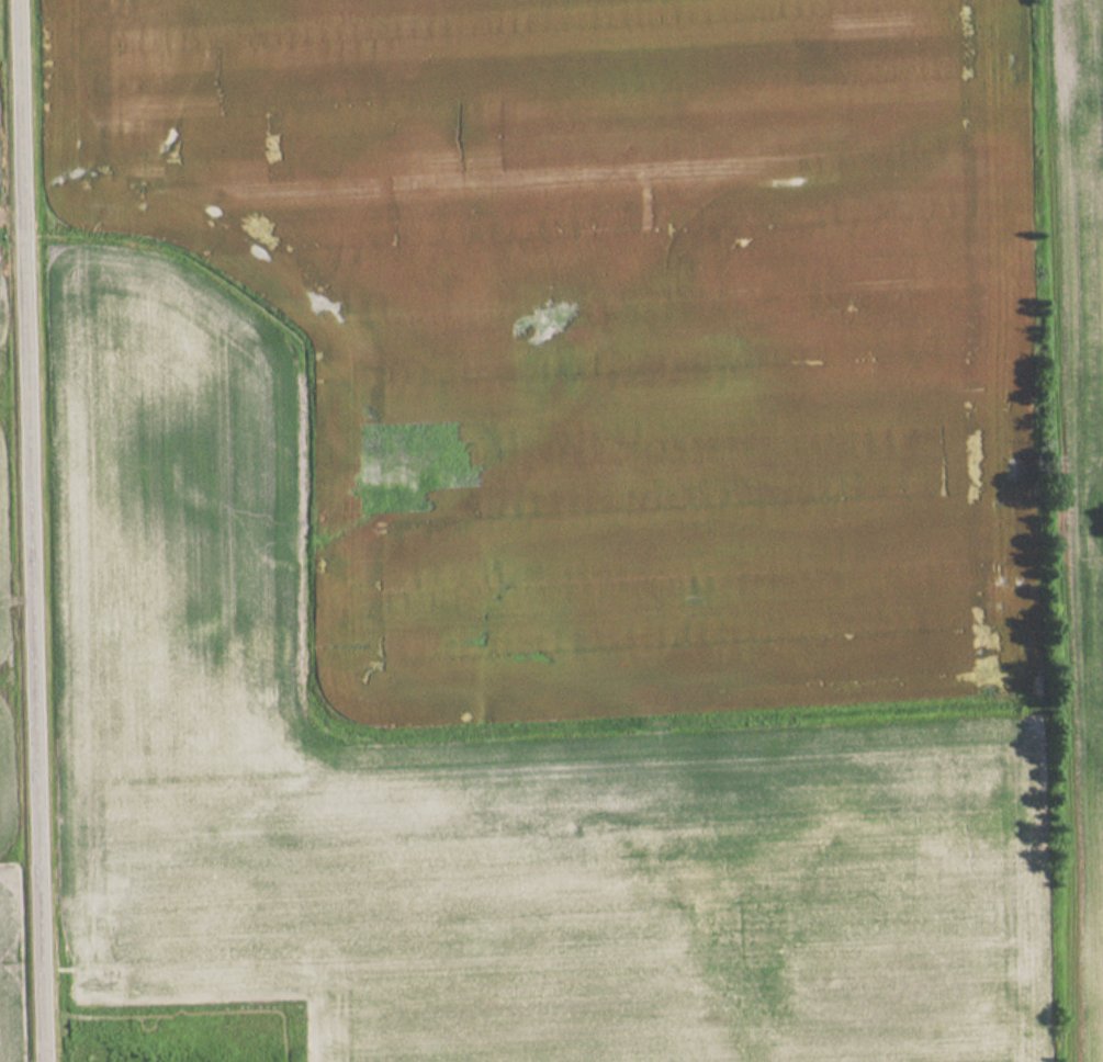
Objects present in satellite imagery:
road: (34, 530)

